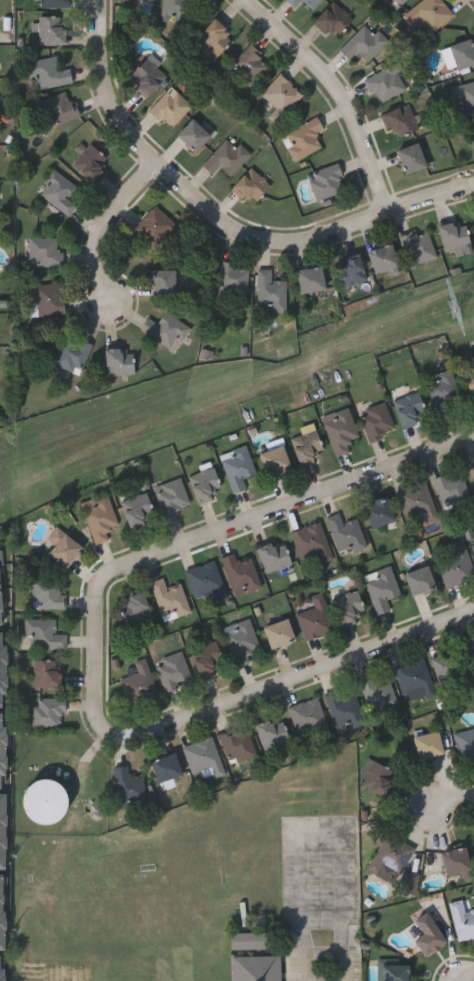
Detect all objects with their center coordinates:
building: (294, 2)
building: (54, 3)
building: (312, 3)
building: (396, 3)
building: (127, 5)
building: (178, 9)
building: (428, 16)
building: (333, 20)
building: (53, 29)
building: (215, 36)
building: (364, 44)
building: (463, 53)
building: (250, 65)
building: (48, 71)
building: (148, 75)
building: (386, 83)
building: (282, 94)
road: (342, 94)
building: (467, 96)
building: (170, 107)
building: (61, 108)
building: (401, 121)
building: (473, 127)
building: (193, 135)
building: (303, 139)
building: (227, 157)
building: (412, 158)
building: (88, 162)
building: (327, 181)
building: (251, 186)
building: (59, 192)
road: (223, 220)
building: (156, 226)
road: (116, 228)
building: (454, 235)
building: (418, 247)
building: (45, 252)
building: (383, 258)
building: (350, 271)
building: (310, 279)
building: (233, 280)
building: (163, 282)
building: (270, 292)
building: (47, 300)
power tower: (455, 309)
building: (166, 330)
building: (72, 354)
building: (119, 361)
building: (471, 387)
building: (444, 389)
building: (410, 408)
building: (378, 422)
building: (341, 430)
building: (275, 462)
building: (237, 468)
building: (205, 485)
building: (452, 490)
building: (172, 496)
building: (417, 503)
building: (136, 506)
building: (379, 513)
building: (99, 517)
road: (267, 522)
building: (347, 534)
building: (312, 545)
building: (473, 545)
building: (63, 547)
building: (275, 556)
building: (458, 566)
building: (241, 574)
building: (205, 580)
building: (419, 581)
building: (382, 588)
building: (47, 594)
building: (168, 596)
building: (349, 606)
building: (0, 607)
building: (135, 609)
building: (314, 616)
building: (45, 633)
building: (279, 634)
building: (241, 641)
building: (470, 648)
building: (206, 656)
building: (449, 667)
building: (173, 672)
building: (46, 673)
building: (415, 678)
building: (139, 683)
building: (380, 694)
road: (242, 703)
building: (345, 709)
building: (49, 712)
building: (309, 717)
building: (272, 733)
building: (428, 744)
building: (466, 744)
building: (238, 745)
building: (202, 755)
building: (166, 768)
building: (377, 776)
building: (128, 786)
building: (45, 804)
road: (458, 804)
road: (330, 825)
building: (390, 855)
building: (456, 861)
building: (462, 919)
building: (427, 934)
building: (250, 939)
building: (257, 968)
building: (393, 972)

